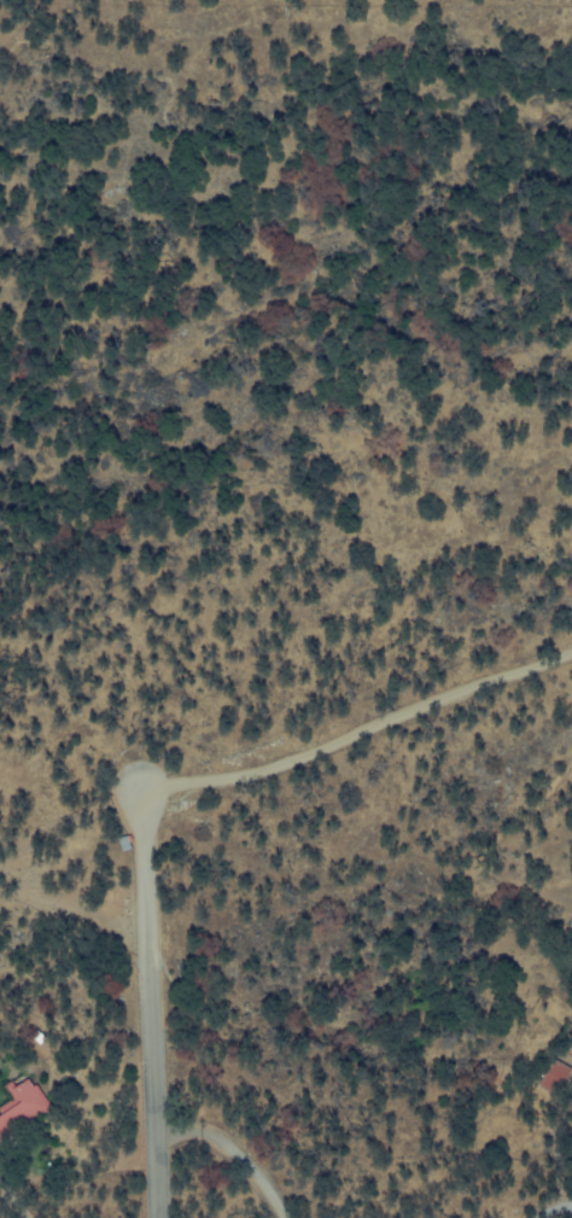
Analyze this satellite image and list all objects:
road: (375, 716)
road: (142, 977)
building: (554, 1080)
building: (22, 1109)
road: (233, 1148)
road: (556, 1205)

